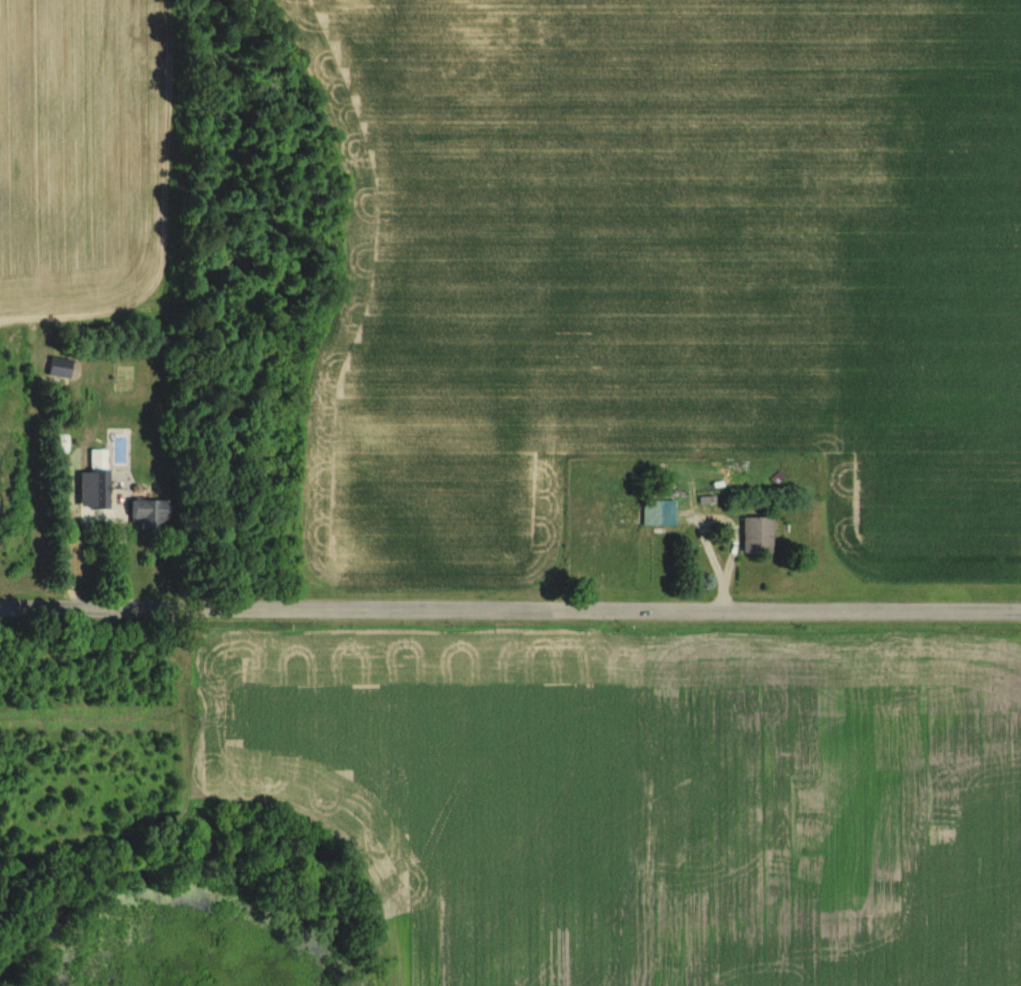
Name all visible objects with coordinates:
crop: (87, 154)
crop: (676, 261)
building: (97, 478)
building: (775, 480)
building: (671, 501)
building: (147, 513)
building: (755, 535)
road: (510, 612)

